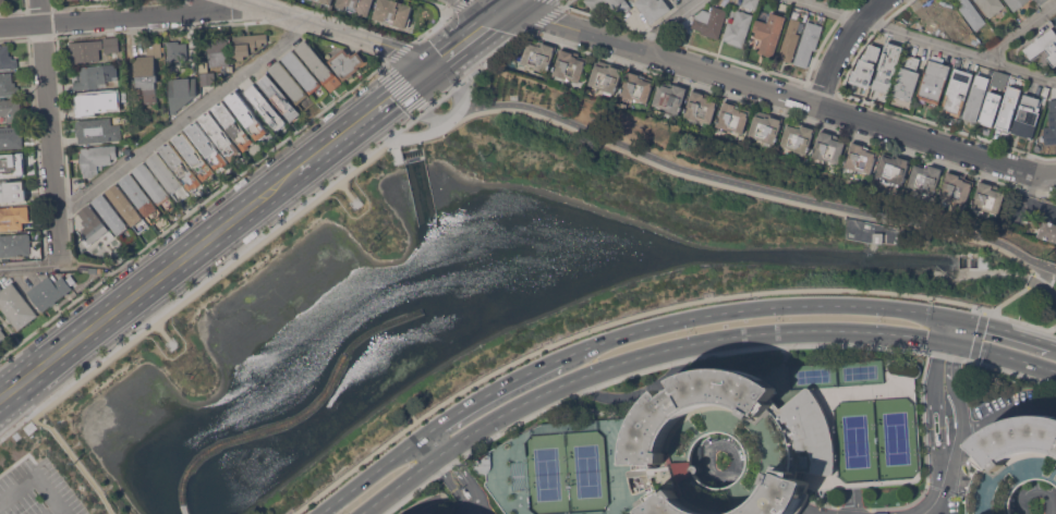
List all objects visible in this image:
building: (826, 0)
building: (327, 1)
building: (1041, 1)
road: (565, 2)
building: (2, 3)
road: (498, 3)
road: (515, 3)
building: (751, 3)
building: (1016, 3)
building: (356, 5)
road: (459, 5)
building: (991, 5)
building: (620, 7)
traffic signals: (511, 8)
building: (653, 9)
building: (393, 13)
road: (551, 13)
building: (972, 14)
road: (124, 15)
building: (939, 16)
building: (709, 21)
road: (671, 22)
building: (1055, 24)
road: (433, 26)
building: (738, 27)
road: (339, 30)
building: (768, 33)
road: (1022, 36)
road: (468, 39)
building: (790, 40)
road: (926, 41)
building: (808, 42)
building: (247, 44)
road: (341, 45)
building: (109, 46)
building: (1044, 46)
road: (841, 47)
building: (85, 51)
road: (400, 51)
building: (175, 52)
building: (219, 52)
building: (539, 57)
building: (7, 60)
building: (345, 63)
building: (866, 64)
building: (569, 65)
building: (318, 66)
building: (886, 66)
building: (148, 71)
traffic signals: (425, 71)
building: (302, 72)
building: (606, 76)
building: (95, 77)
building: (908, 77)
building: (207, 79)
road: (412, 79)
building: (999, 79)
building: (934, 81)
building: (289, 83)
building: (8, 84)
building: (636, 86)
road: (401, 90)
building: (958, 91)
building: (181, 93)
road: (782, 94)
building: (669, 97)
building: (976, 97)
building: (280, 98)
building: (95, 105)
building: (265, 107)
building: (700, 107)
building: (991, 108)
building: (1008, 108)
building: (11, 110)
building: (246, 114)
building: (732, 117)
building: (1027, 117)
road: (182, 118)
building: (1051, 124)
building: (233, 125)
road: (441, 125)
building: (765, 127)
road: (49, 132)
building: (97, 132)
road: (343, 133)
building: (220, 135)
building: (10, 137)
building: (797, 137)
building: (206, 145)
building: (828, 148)
building: (193, 155)
building: (860, 158)
building: (96, 159)
building: (180, 166)
building: (12, 167)
building: (894, 168)
building: (165, 173)
building: (925, 178)
road: (737, 181)
building: (151, 183)
road: (1034, 185)
building: (956, 187)
road: (347, 189)
building: (13, 192)
building: (137, 194)
building: (988, 198)
building: (124, 204)
road: (1040, 206)
road: (193, 208)
building: (111, 215)
building: (13, 218)
building: (93, 225)
building: (1047, 230)
road: (265, 234)
building: (878, 237)
park: (1013, 238)
building: (14, 244)
road: (28, 267)
building: (93, 269)
road: (1016, 272)
road: (143, 286)
building: (49, 291)
road: (1019, 292)
building: (15, 306)
road: (752, 308)
road: (650, 311)
traffic signals: (951, 317)
road: (949, 329)
road: (1003, 329)
road: (162, 331)
building: (2, 335)
traffic signals: (947, 342)
road: (1055, 344)
road: (683, 348)
road: (1002, 354)
road: (702, 356)
road: (490, 392)
road: (635, 392)
road: (1004, 412)
road: (952, 431)
building: (605, 439)
park: (894, 439)
park: (855, 441)
road: (434, 442)
road: (75, 460)
building: (1011, 462)
road: (373, 473)
park: (567, 473)
road: (402, 484)
road: (462, 484)
parking lot: (37, 487)
road: (17, 489)
road: (50, 494)
road: (937, 503)
road: (57, 511)

